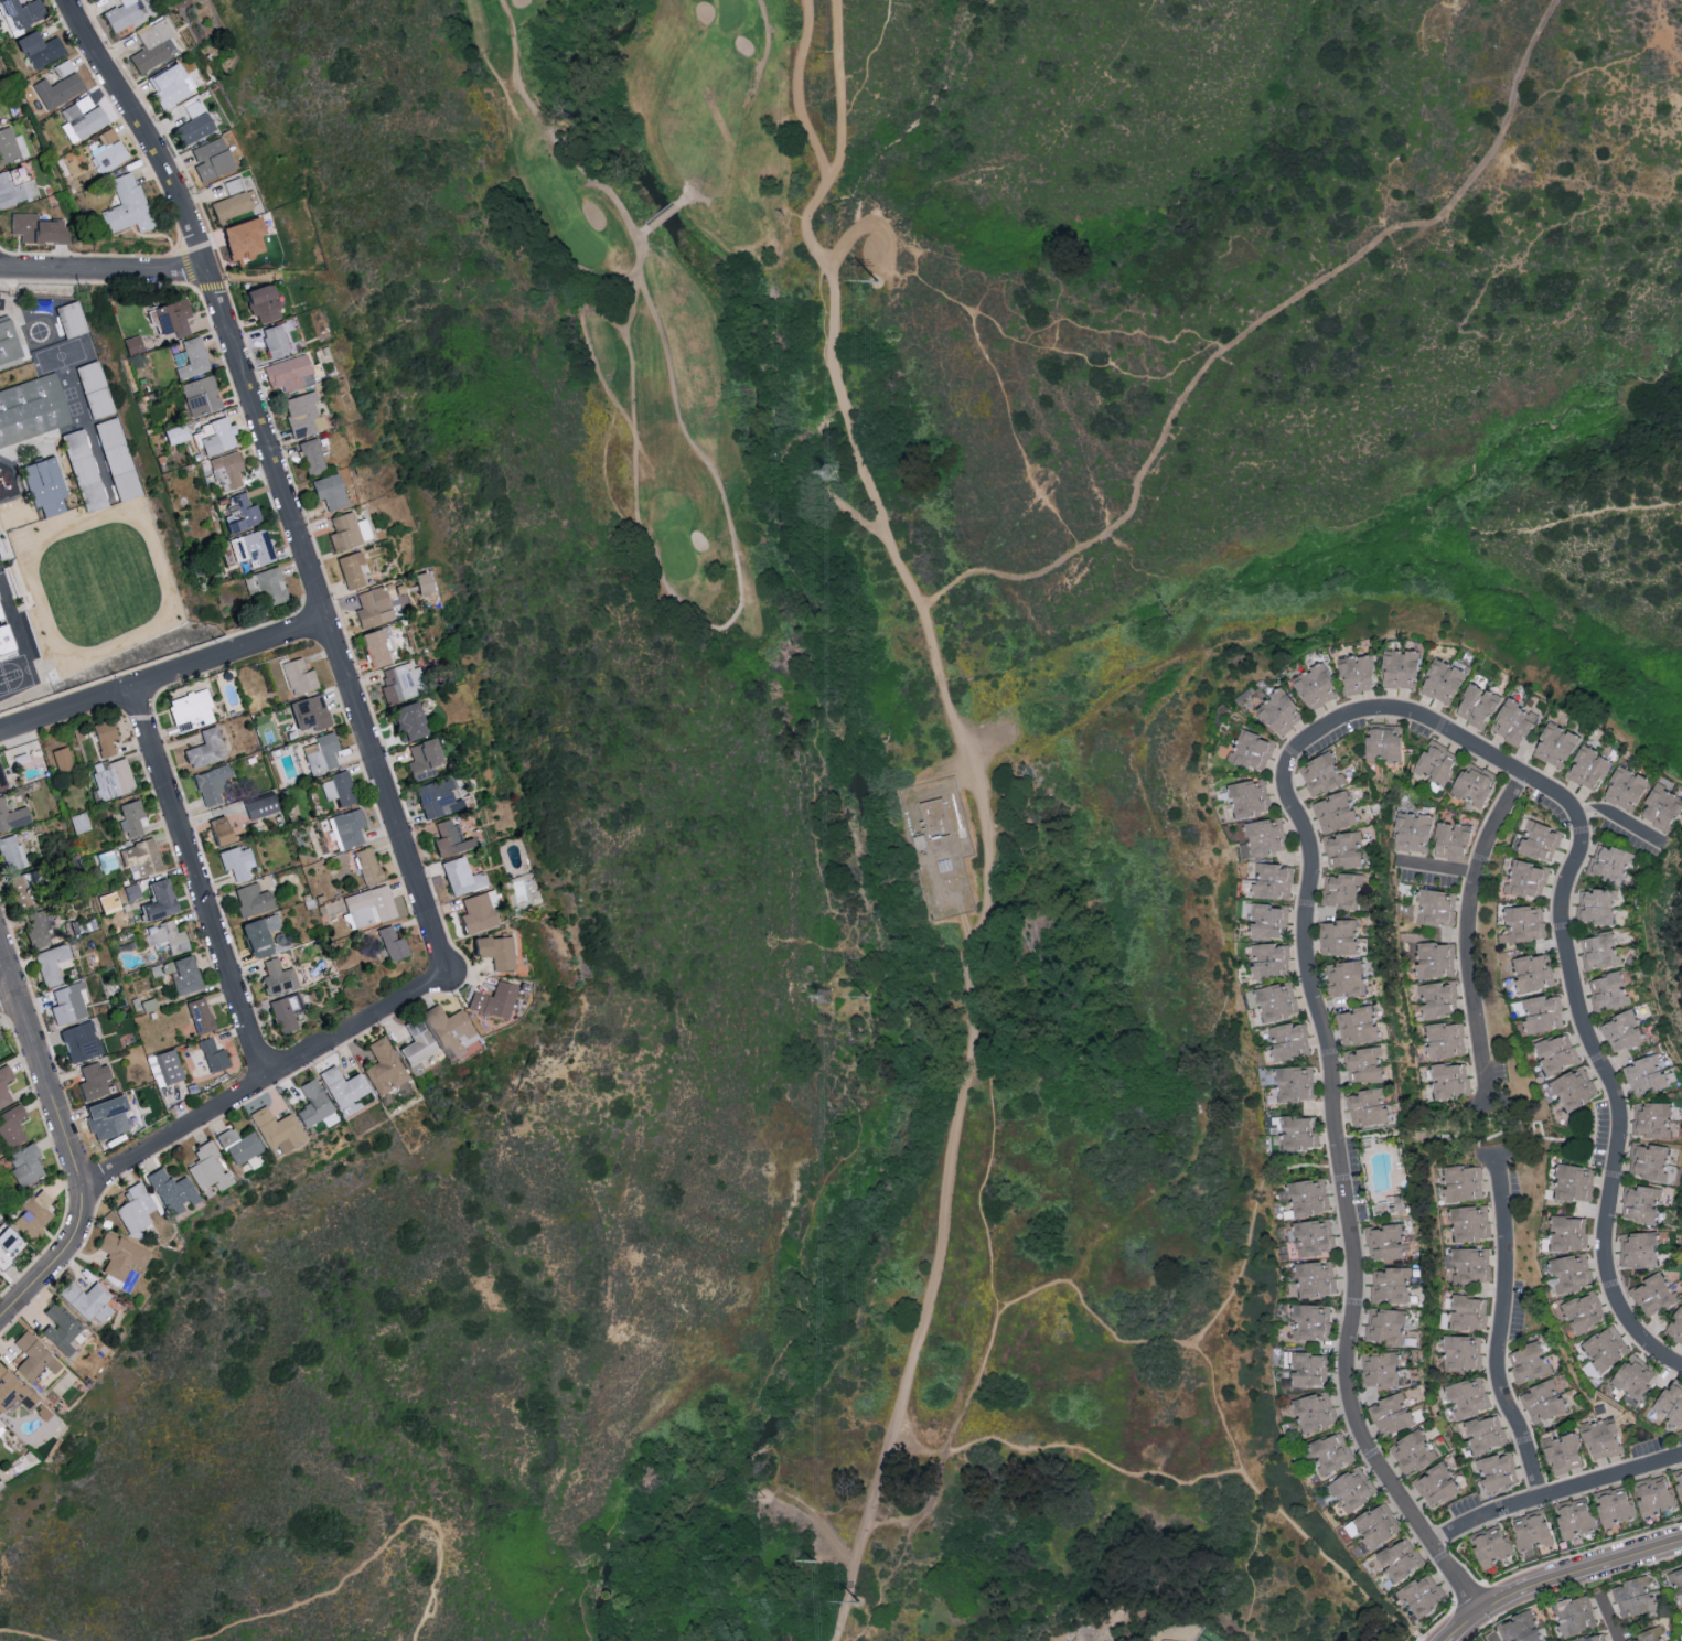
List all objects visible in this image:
building: (20, 12)
park: (731, 13)
building: (121, 14)
building: (149, 45)
building: (36, 49)
building: (56, 89)
road: (796, 89)
building: (185, 111)
building: (79, 119)
building: (192, 129)
road: (840, 142)
building: (8, 146)
building: (106, 151)
building: (213, 162)
building: (15, 186)
building: (229, 186)
road: (678, 201)
building: (125, 206)
building: (227, 206)
road: (665, 211)
road: (870, 223)
building: (36, 228)
road: (643, 228)
building: (239, 238)
park: (586, 247)
road: (101, 268)
park: (645, 279)
power tower: (880, 283)
building: (259, 303)
road: (606, 317)
building: (171, 318)
building: (69, 320)
road: (1250, 324)
building: (274, 340)
building: (42, 341)
building: (131, 345)
building: (11, 350)
building: (190, 358)
building: (286, 374)
building: (200, 396)
building: (300, 415)
building: (33, 419)
building: (216, 437)
building: (115, 440)
road: (701, 453)
building: (310, 457)
building: (226, 470)
power tower: (834, 473)
building: (89, 480)
road: (277, 480)
building: (44, 485)
building: (328, 491)
road: (1388, 506)
building: (239, 514)
building: (347, 530)
building: (146, 543)
building: (250, 548)
park: (677, 555)
building: (350, 569)
building: (158, 578)
building: (268, 586)
building: (122, 590)
building: (371, 608)
building: (1, 644)
building: (376, 646)
building: (1399, 668)
building: (1356, 673)
building: (298, 677)
building: (1442, 680)
road: (164, 683)
building: (397, 683)
building: (1314, 686)
building: (1476, 704)
building: (191, 711)
building: (1278, 711)
building: (308, 712)
building: (1512, 720)
building: (405, 722)
building: (103, 738)
building: (1383, 741)
building: (1554, 743)
building: (205, 749)
building: (1251, 750)
building: (321, 753)
building: (62, 760)
building: (420, 760)
building: (1435, 764)
building: (1588, 766)
building: (1320, 773)
building: (110, 779)
park: (887, 781)
building: (1472, 783)
building: (211, 785)
building: (1625, 786)
building: (338, 789)
building: (1249, 796)
building: (433, 798)
building: (1662, 804)
building: (260, 807)
building: (1333, 811)
building: (12, 817)
road: (1620, 817)
building: (130, 819)
building: (347, 828)
building: (217, 832)
building: (1412, 832)
building: (1265, 836)
building: (1451, 838)
building: (448, 839)
building: (1539, 839)
building: (1342, 849)
building: (11, 852)
building: (140, 858)
building: (236, 862)
building: (1611, 862)
building: (366, 866)
road: (1437, 866)
building: (459, 877)
building: (1526, 878)
building: (1273, 880)
road: (202, 888)
building: (1342, 889)
building: (21, 890)
building: (251, 900)
building: (154, 901)
building: (1597, 905)
building: (1433, 907)
building: (367, 908)
building: (473, 914)
building: (1266, 920)
building: (1524, 923)
building: (36, 931)
building: (258, 935)
building: (1339, 936)
road: (1466, 936)
building: (164, 939)
building: (392, 944)
road: (971, 948)
building: (1599, 950)
building: (493, 952)
building: (1269, 959)
building: (1435, 959)
building: (51, 964)
road: (1568, 969)
building: (1534, 972)
building: (181, 974)
building: (277, 977)
building: (1344, 978)
building: (1608, 990)
power tower: (825, 997)
power tower: (869, 998)
road: (9, 999)
building: (493, 1000)
building: (1276, 1001)
building: (68, 1005)
building: (1541, 1012)
building: (285, 1013)
building: (200, 1016)
building: (1357, 1025)
building: (1621, 1030)
building: (450, 1031)
building: (1445, 1039)
building: (1289, 1041)
building: (79, 1042)
building: (417, 1043)
building: (1556, 1053)
building: (212, 1055)
building: (1363, 1064)
road: (42, 1066)
building: (168, 1066)
building: (383, 1068)
building: (1646, 1075)
building: (1450, 1080)
building: (93, 1081)
building: (1293, 1082)
road: (267, 1084)
building: (343, 1086)
building: (1574, 1087)
building: (3, 1092)
building: (312, 1103)
building: (1368, 1106)
building: (105, 1119)
building: (1651, 1119)
building: (10, 1126)
building: (1296, 1133)
road: (1491, 1135)
building: (239, 1146)
building: (1651, 1162)
building: (23, 1166)
building: (207, 1169)
road: (1340, 1173)
building: (1575, 1182)
building: (1463, 1183)
building: (172, 1192)
building: (1308, 1197)
building: (1640, 1202)
building: (1390, 1204)
building: (135, 1210)
building: (31, 1216)
building: (1470, 1223)
building: (1568, 1233)
building: (1313, 1236)
building: (1384, 1241)
building: (8, 1248)
building: (1637, 1249)
building: (120, 1256)
road: (56, 1265)
building: (1470, 1265)
building: (1571, 1272)
building: (1316, 1278)
building: (1391, 1285)
building: (1653, 1294)
building: (86, 1301)
building: (1467, 1312)
building: (1584, 1312)
building: (1311, 1321)
building: (1384, 1326)
building: (1675, 1326)
road: (1499, 1327)
building: (58, 1328)
building: (1606, 1348)
road: (986, 1351)
building: (1460, 1352)
building: (33, 1358)
building: (1529, 1362)
building: (1307, 1369)
building: (1379, 1369)
building: (1632, 1379)
building: (14, 1392)
building: (1468, 1396)
building: (1543, 1401)
building: (1668, 1406)
road: (1219, 1409)
building: (1313, 1413)
building: (1391, 1415)
building: (1, 1429)
building: (1485, 1433)
building: (1601, 1438)
road: (1065, 1445)
building: (1412, 1451)
building: (1330, 1452)
building: (1562, 1452)
building: (1497, 1473)
building: (1679, 1481)
building: (1435, 1484)
building: (1352, 1488)
road: (1553, 1494)
building: (1653, 1494)
building: (1614, 1505)
building: (1574, 1516)
road: (892, 1517)
building: (1376, 1525)
building: (1531, 1530)
building: (1490, 1545)
road: (372, 1557)
building: (1400, 1559)
power tower: (817, 1563)
road: (1553, 1577)
building: (1676, 1585)
building: (1422, 1595)
building: (1633, 1597)
power tower: (860, 1604)
building: (1574, 1613)
road: (1605, 1617)
building: (1519, 1628)
building: (1681, 1628)
road: (22, 1635)
building: (1649, 1635)
park: (1089, 1637)
building: (1592, 1637)
road: (1492, 1639)

